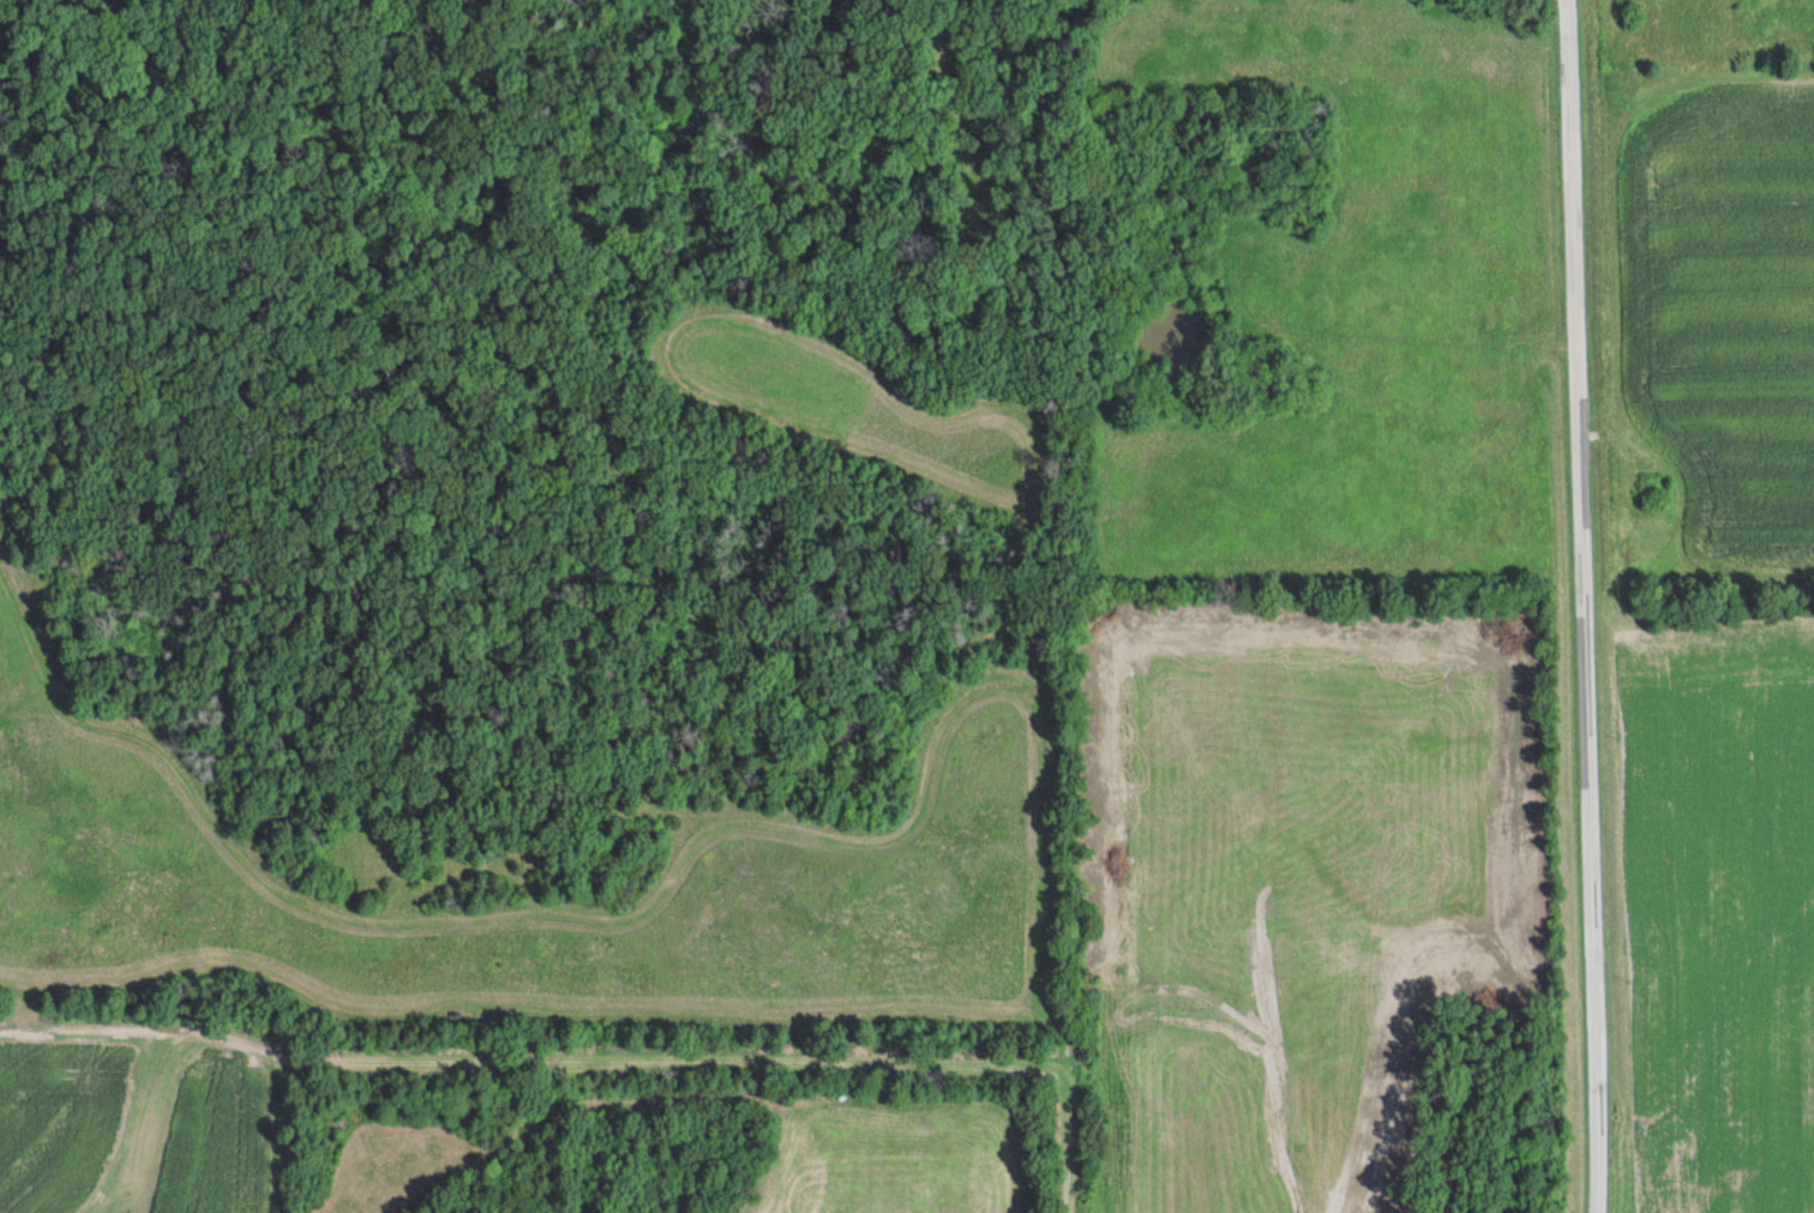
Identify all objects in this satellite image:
road: (1582, 606)

